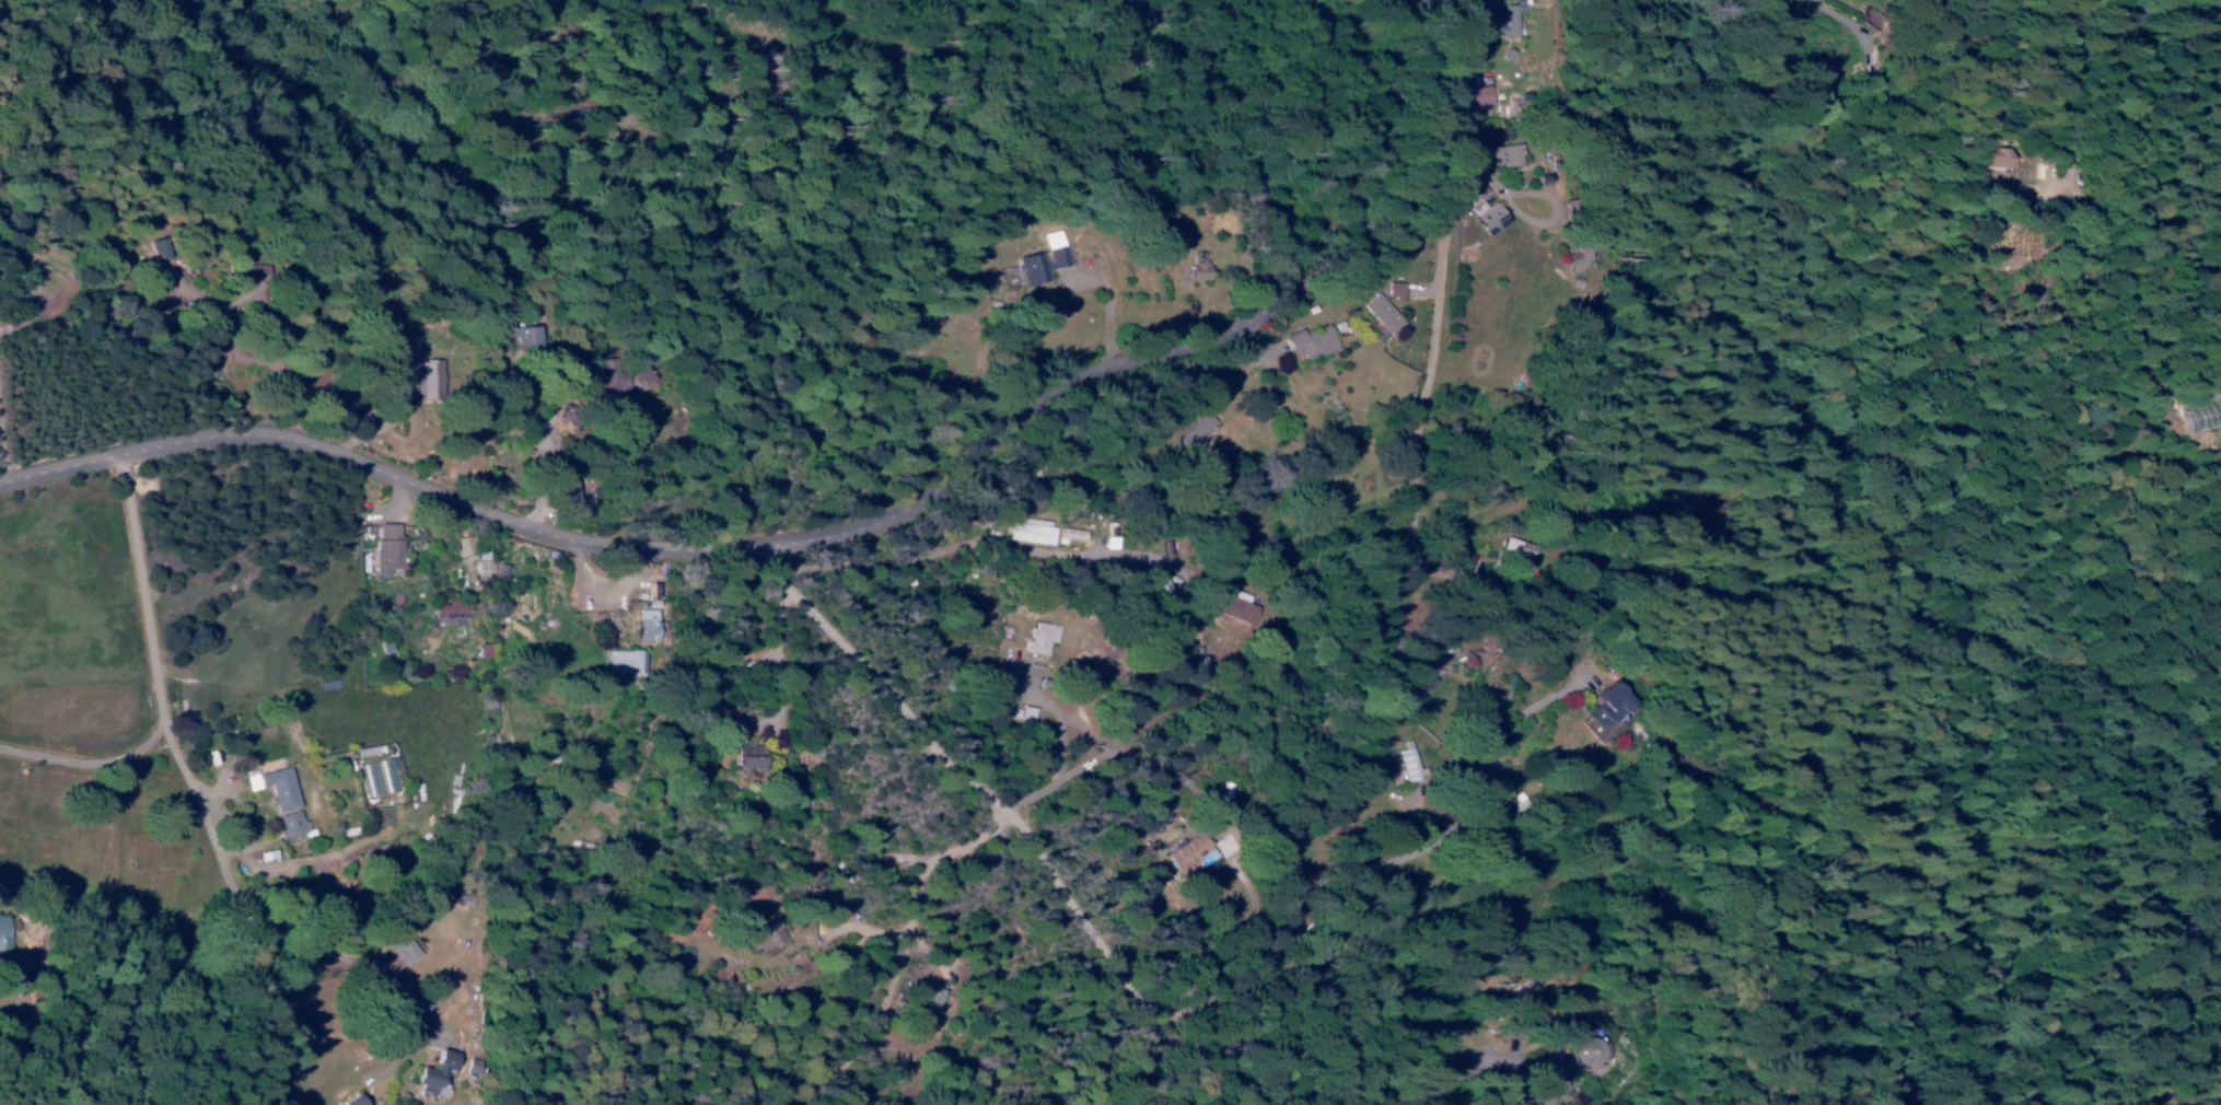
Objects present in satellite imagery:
road: (1990, 5)
building: (1880, 19)
building: (1508, 22)
building: (1480, 96)
building: (1508, 155)
building: (2003, 156)
building: (1489, 217)
building: (165, 247)
building: (1584, 257)
building: (1045, 259)
building: (1199, 267)
building: (1395, 290)
building: (1382, 313)
building: (526, 337)
building: (1312, 341)
building: (400, 349)
building: (644, 373)
building: (615, 375)
building: (429, 380)
building: (1197, 429)
building: (562, 487)
building: (1032, 531)
road: (840, 533)
building: (1072, 534)
building: (1112, 537)
building: (388, 548)
building: (1521, 554)
building: (482, 565)
building: (1239, 606)
building: (447, 609)
building: (647, 625)
building: (1042, 638)
building: (625, 662)
building: (1434, 674)
building: (1613, 705)
building: (749, 757)
building: (1410, 763)
road: (1244, 776)
building: (283, 794)
building: (290, 824)
road: (1019, 831)
building: (1189, 851)
building: (4, 934)
building: (767, 934)
building: (402, 947)
building: (1534, 995)
building: (931, 999)
building: (1589, 1049)
building: (474, 1067)
building: (437, 1075)
building: (353, 1101)

